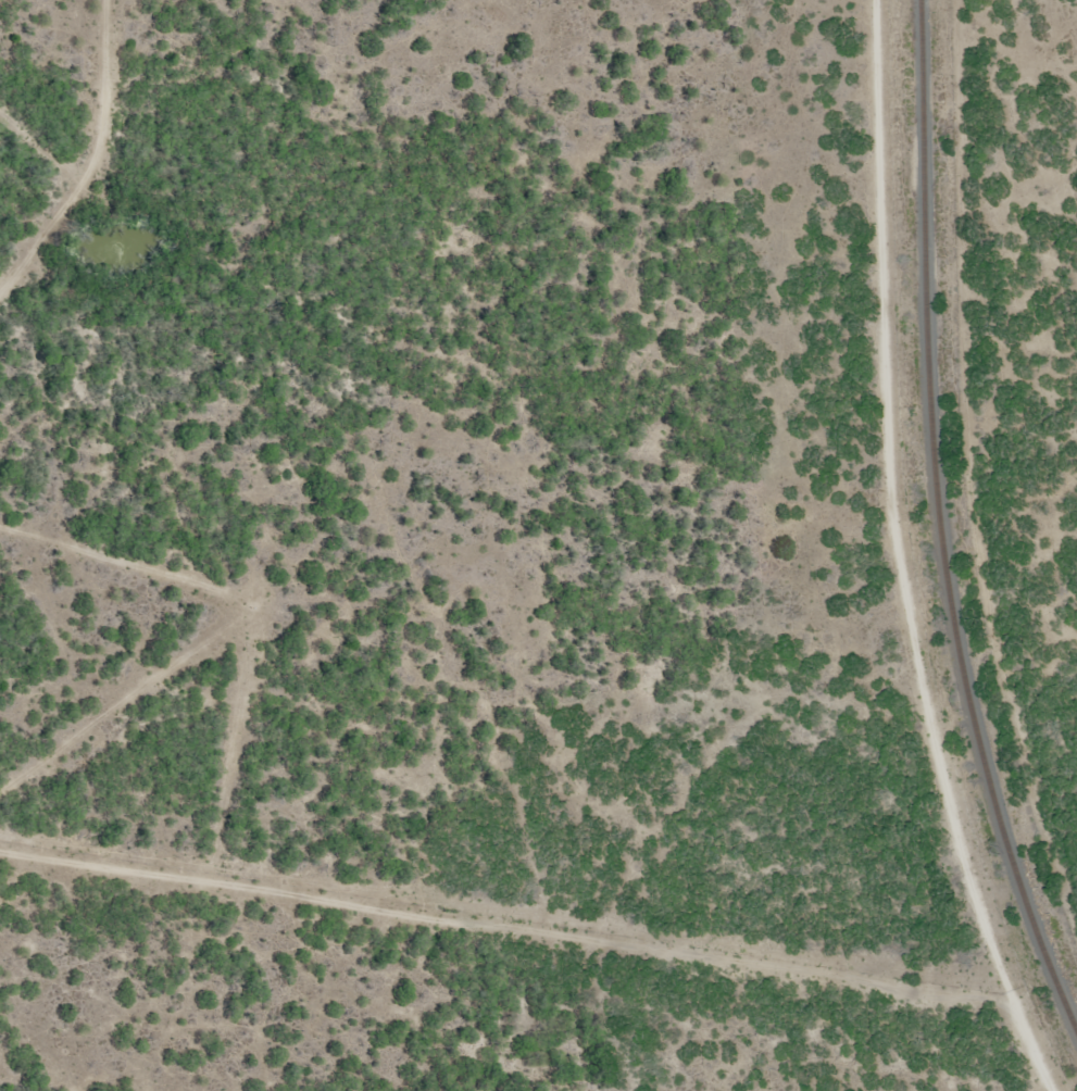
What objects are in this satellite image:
railway: (940, 527)
road: (541, 891)

